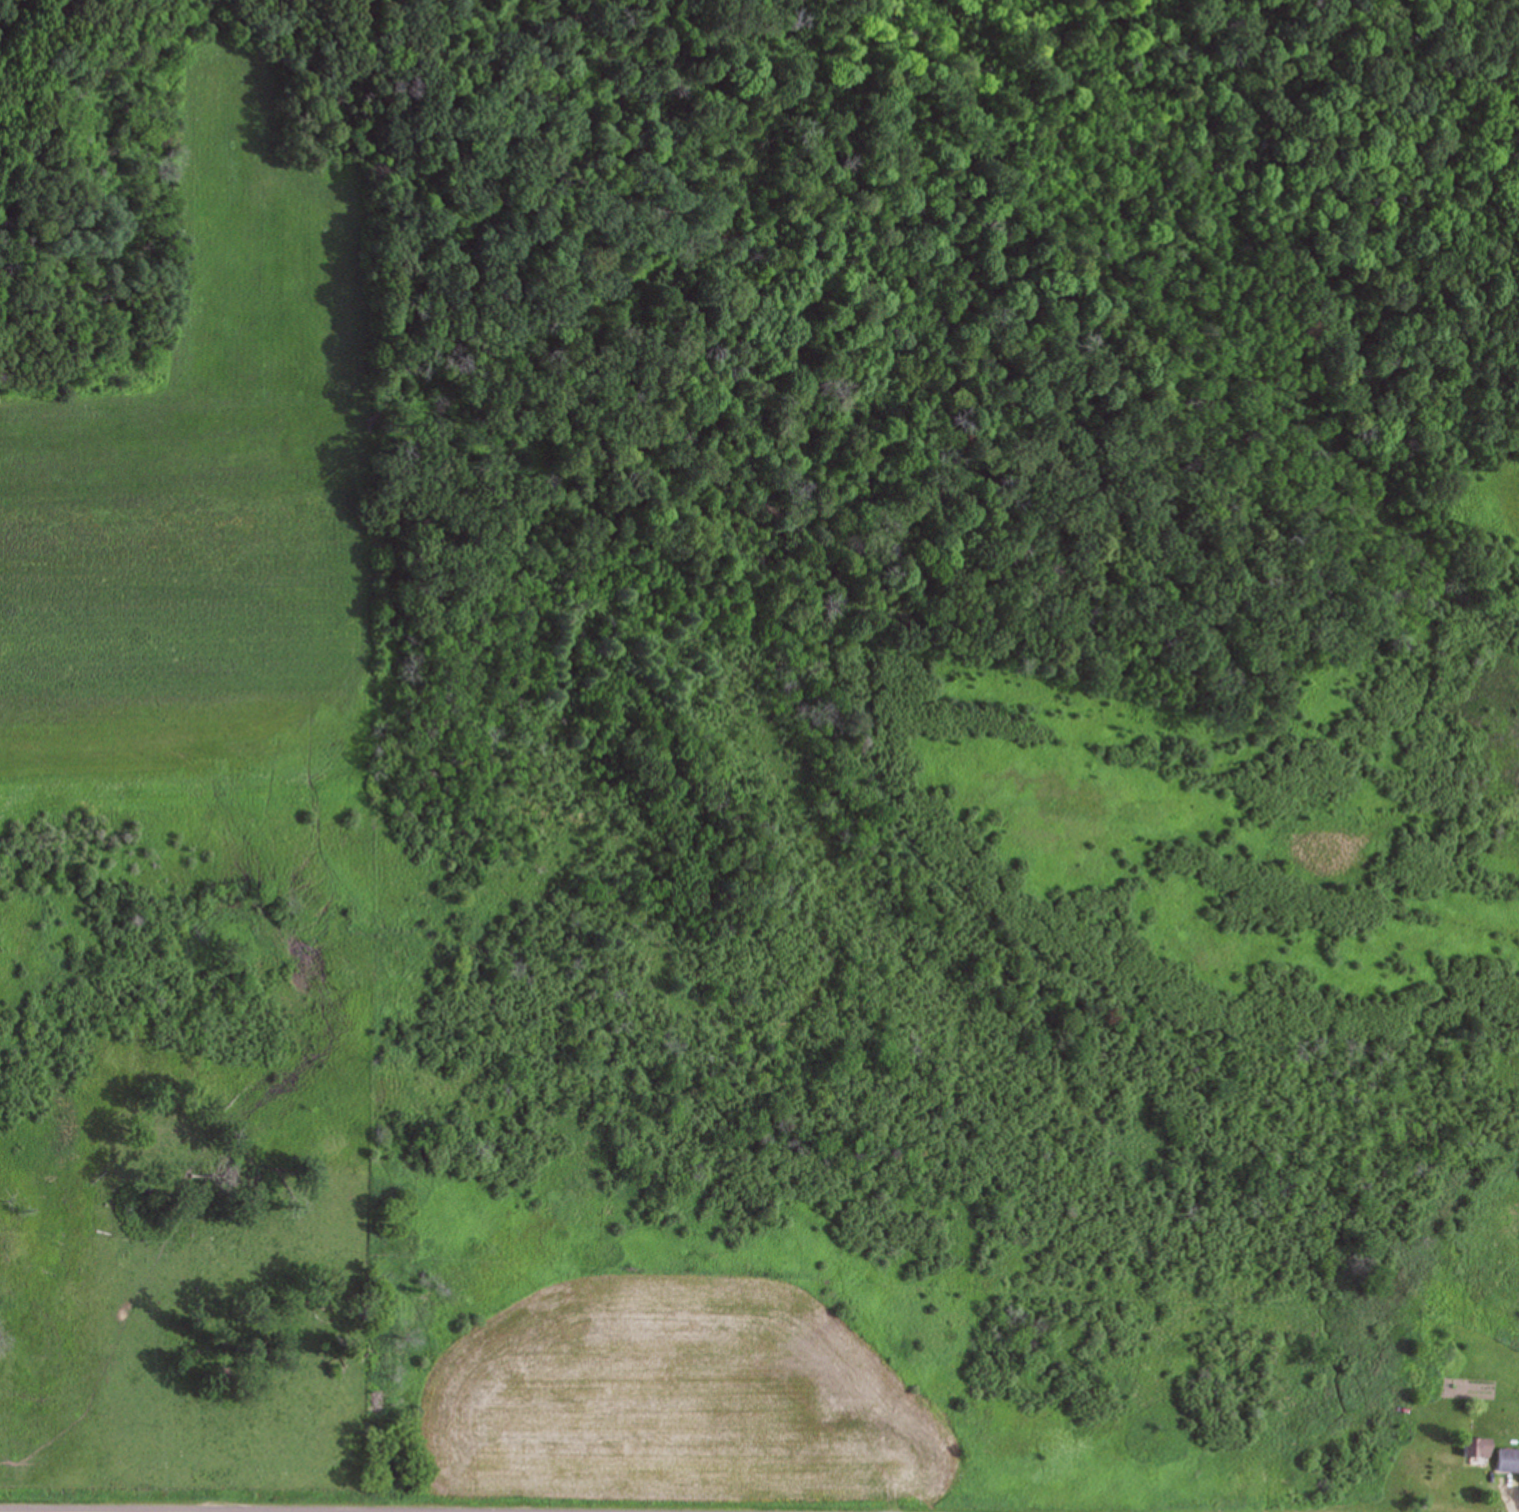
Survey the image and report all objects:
crop: (211, 484)
crop: (1509, 498)
crop: (683, 1406)
building: (1473, 1449)
building: (1505, 1460)
road: (320, 1508)
road: (205, 1510)
crop: (475, 1510)

